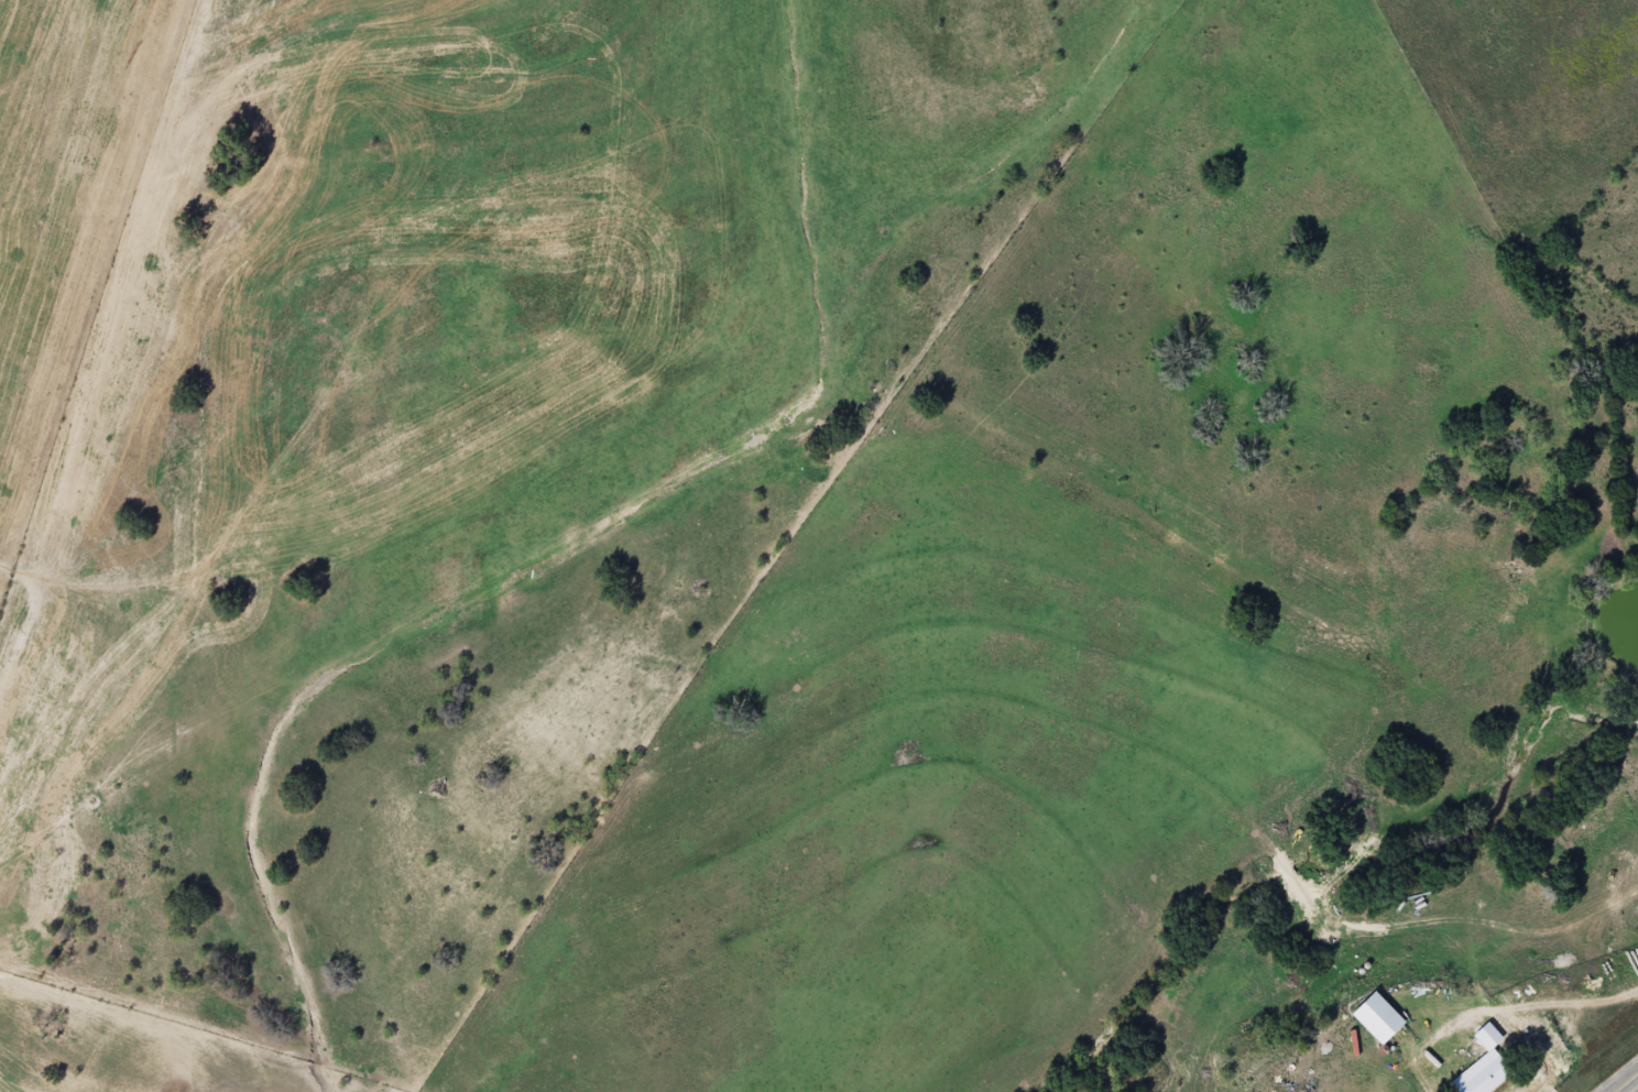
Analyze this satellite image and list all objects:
building: (1378, 1022)
road: (1530, 1059)
building: (1478, 1077)
road: (1626, 1082)

